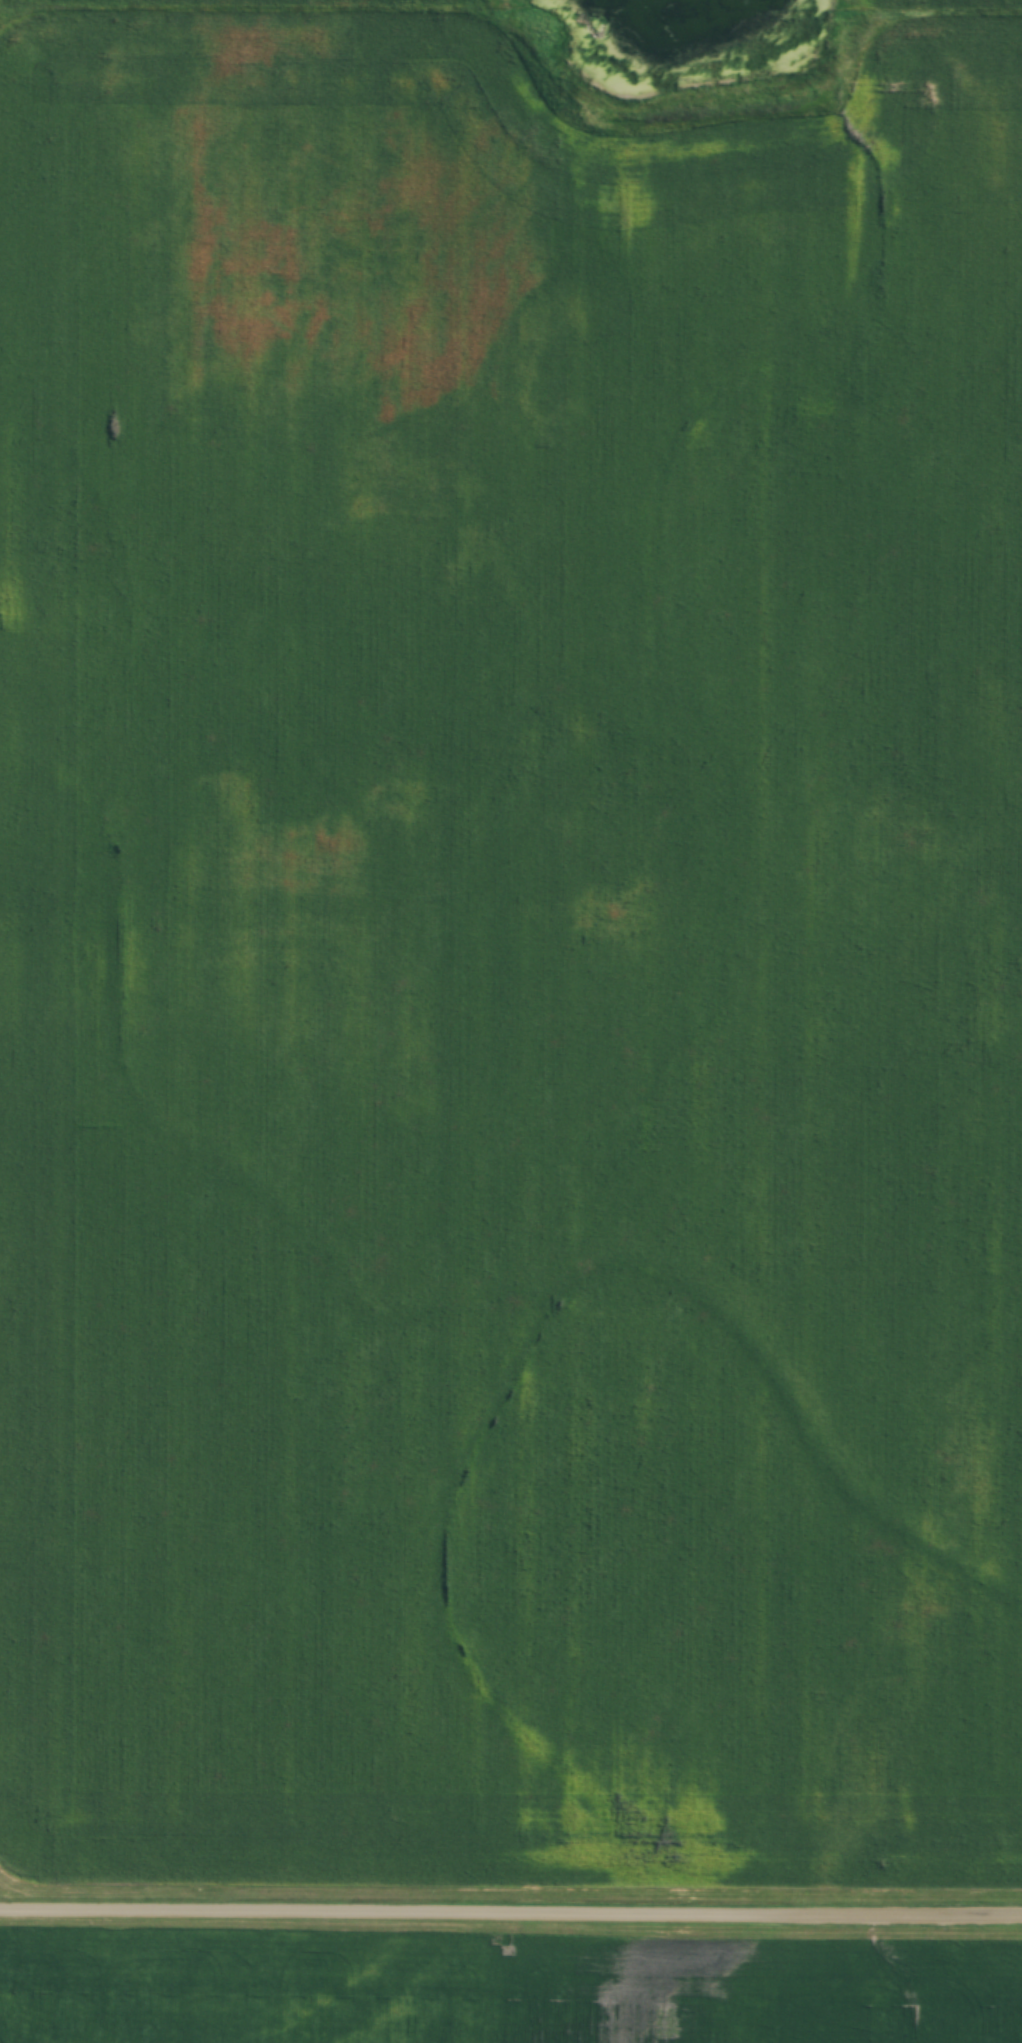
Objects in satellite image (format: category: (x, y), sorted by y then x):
road: (511, 1913)

